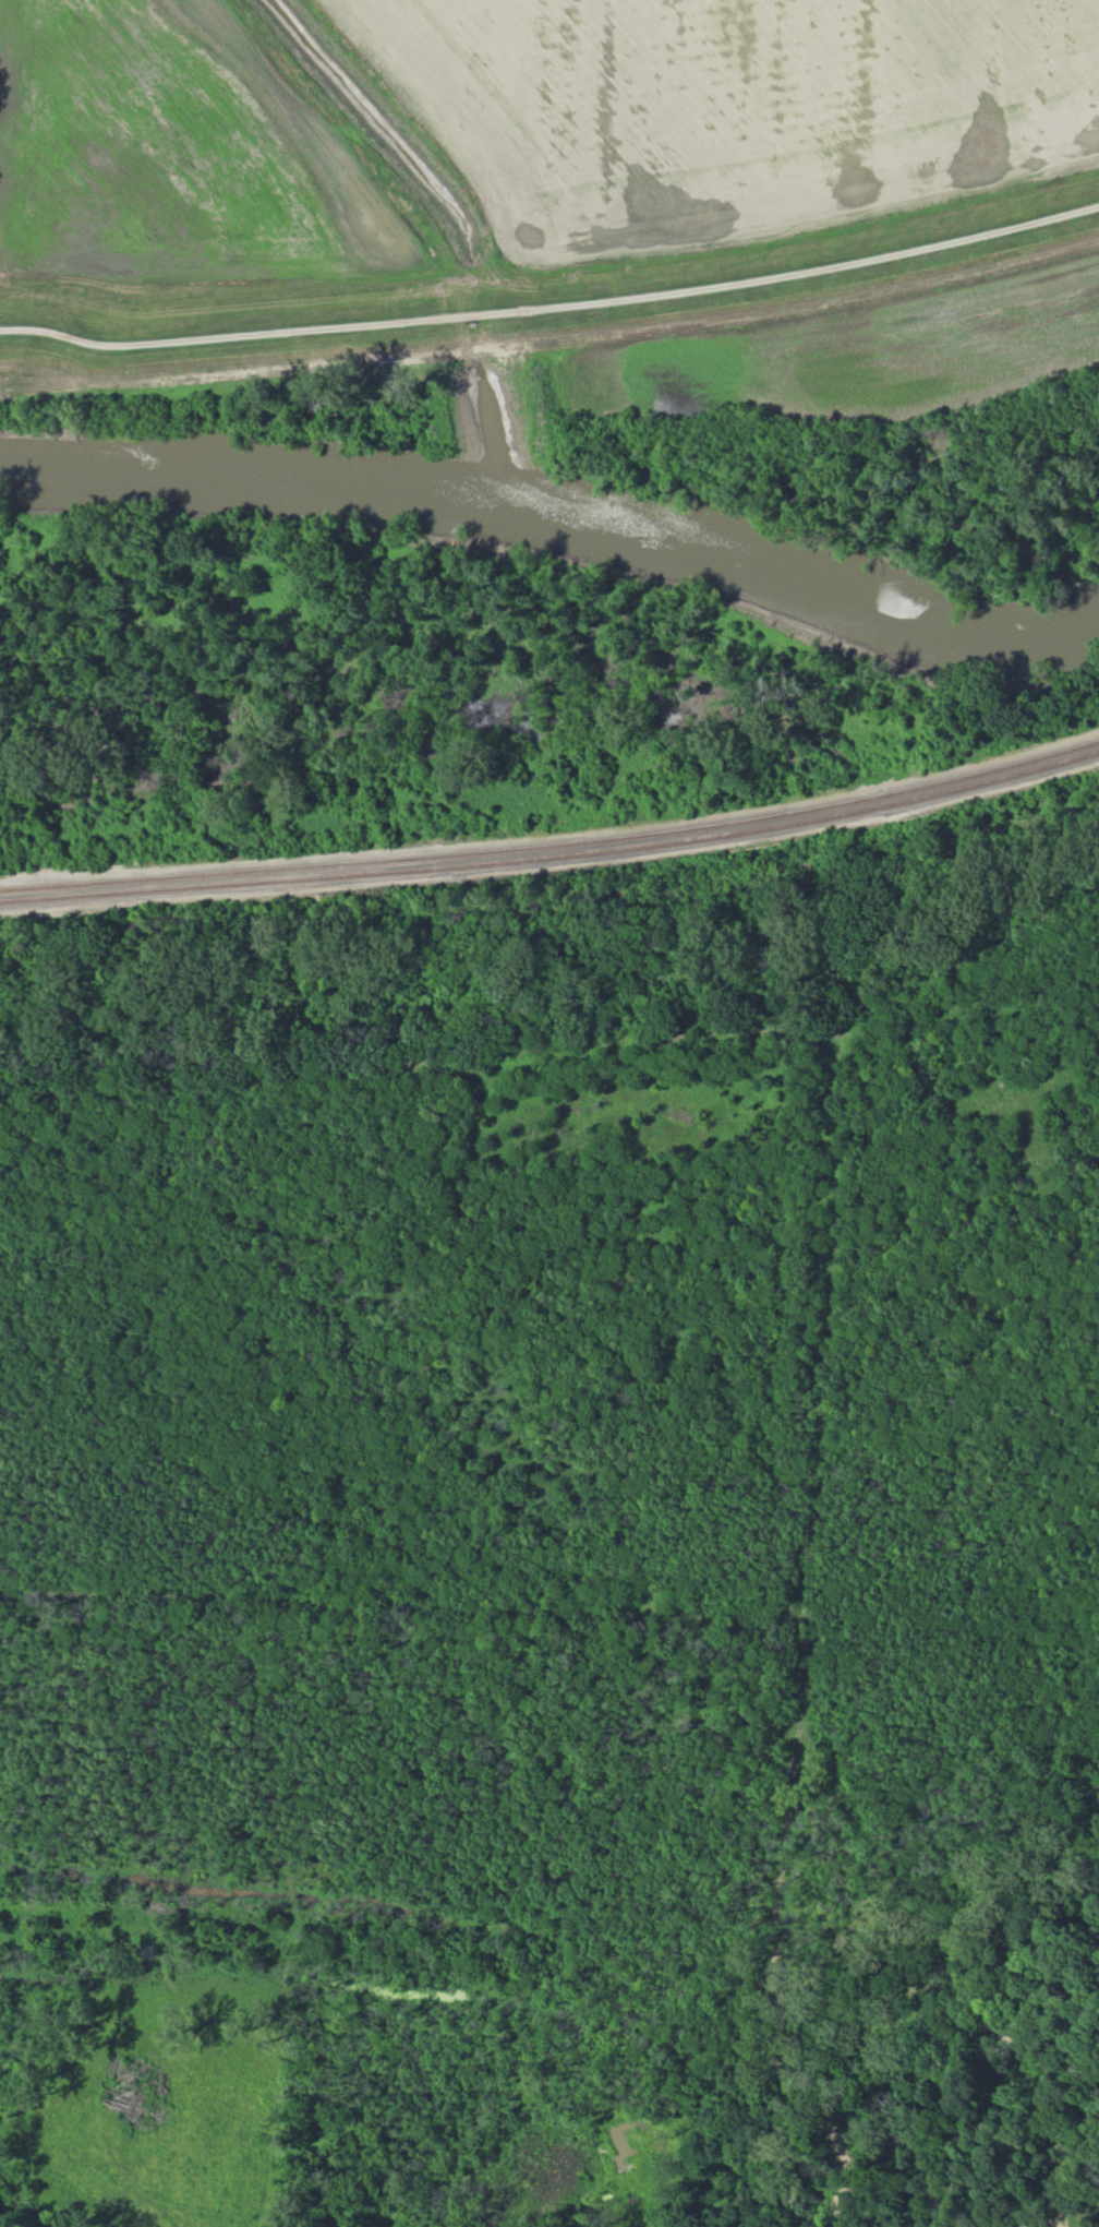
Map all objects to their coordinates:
crop: (735, 105)
road: (552, 306)
river: (560, 516)
railway: (553, 836)
railway: (553, 846)

